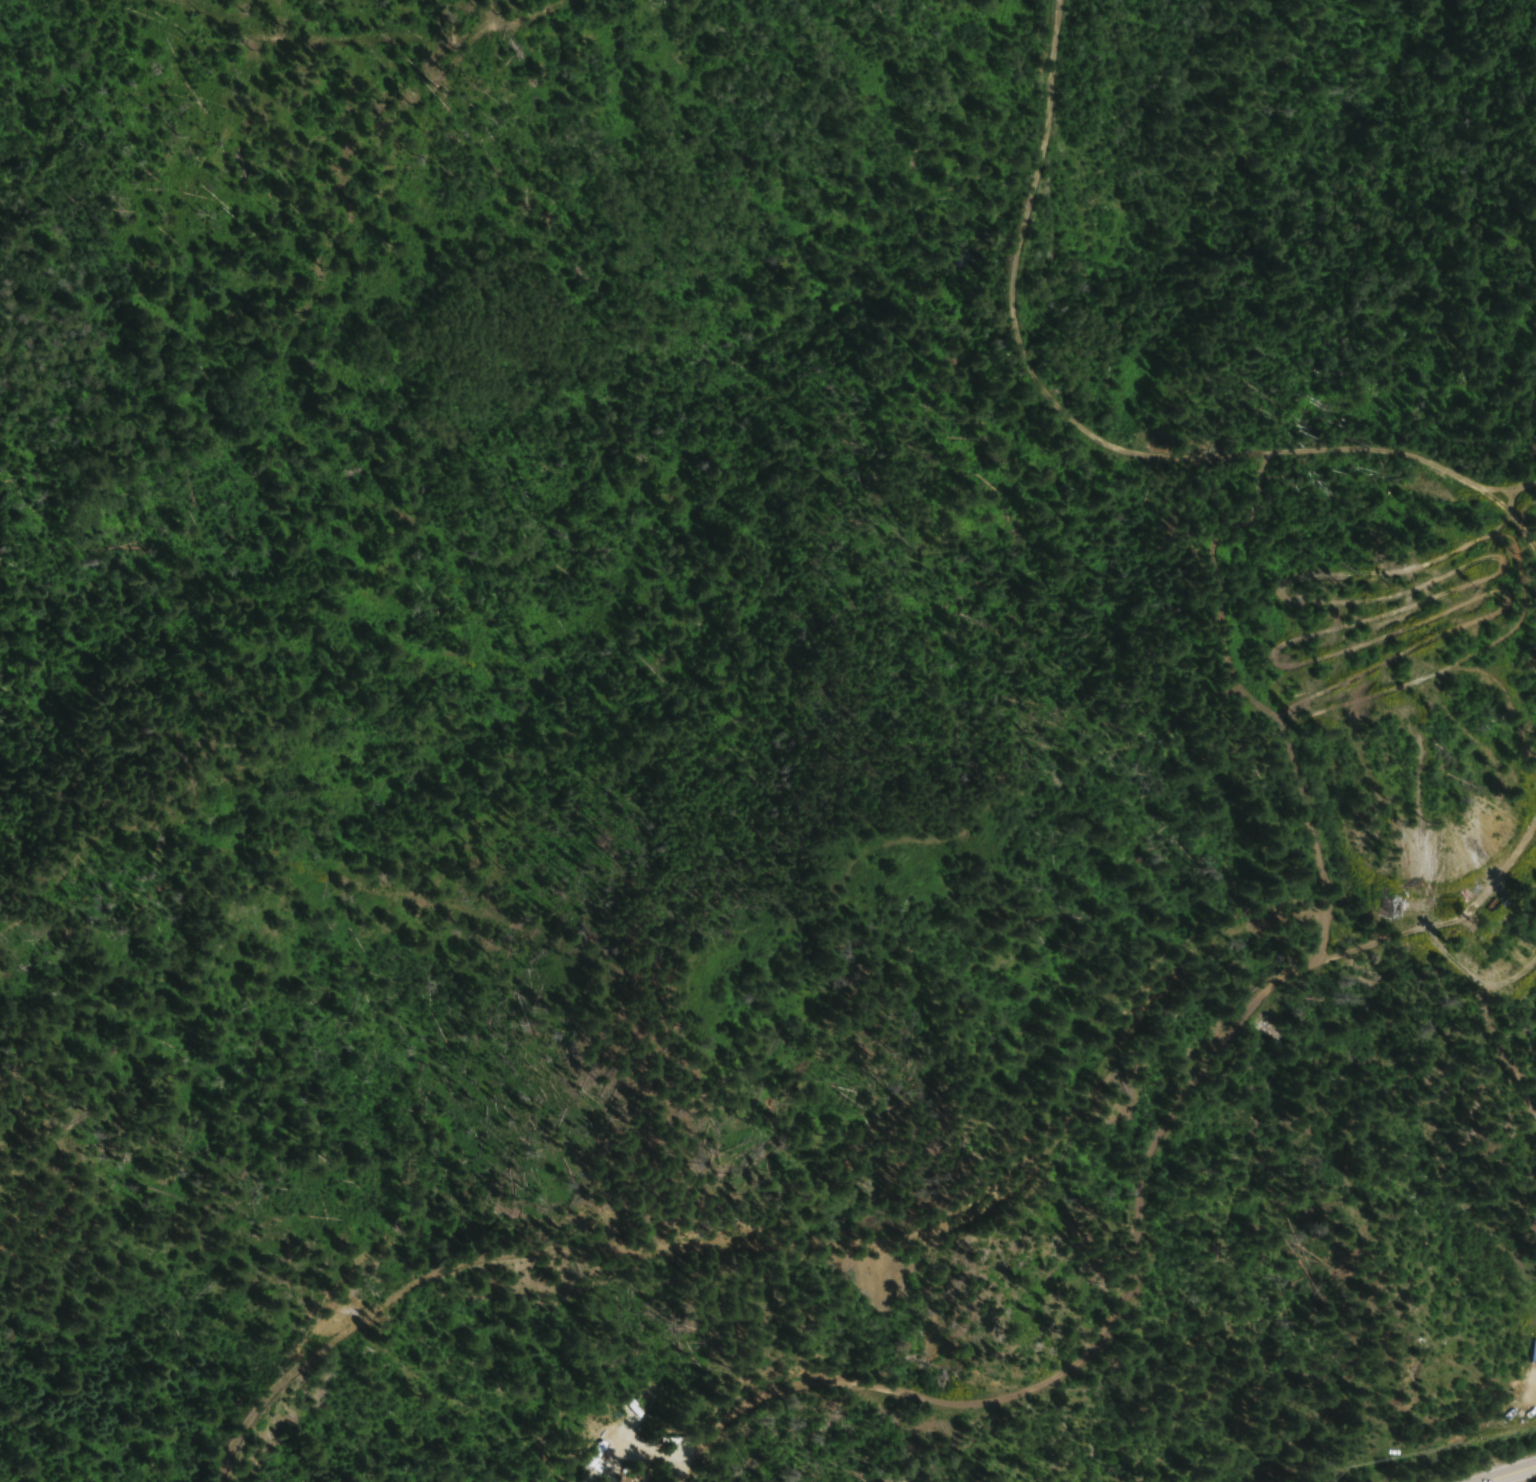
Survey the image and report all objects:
road: (1081, 419)
building: (1535, 1356)
road: (1512, 1474)

